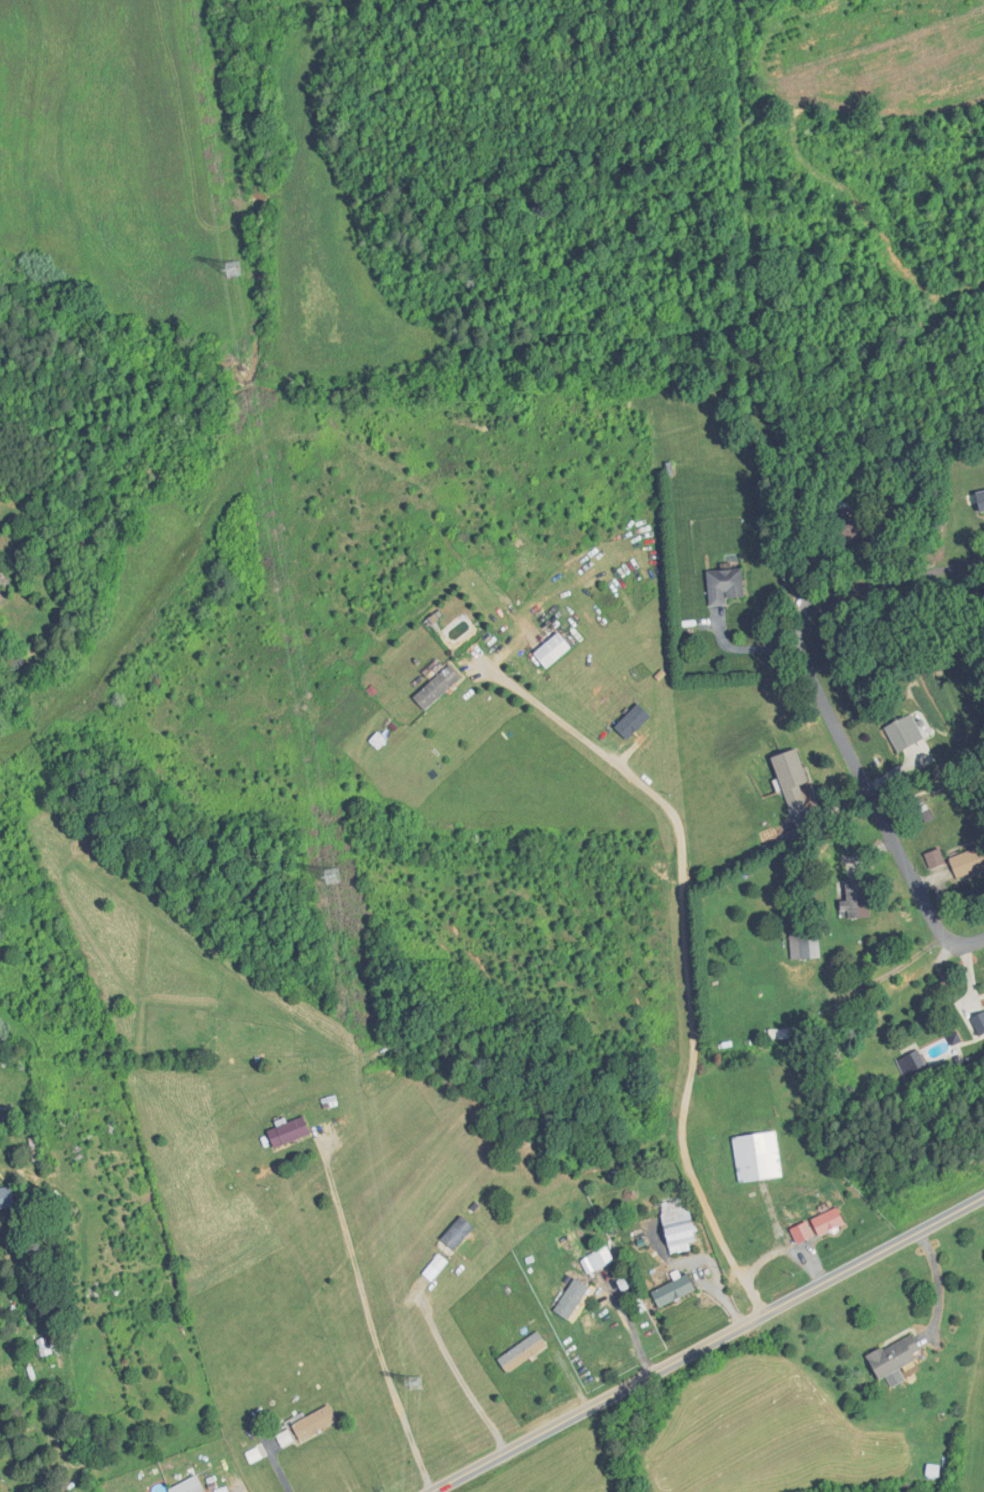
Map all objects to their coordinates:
building: (980, 502)
building: (855, 531)
building: (723, 585)
road: (811, 599)
building: (550, 649)
building: (434, 684)
building: (631, 721)
building: (899, 735)
building: (792, 780)
road: (902, 860)
building: (967, 861)
building: (853, 900)
road: (679, 960)
road: (906, 979)
building: (977, 1024)
building: (909, 1063)
building: (286, 1132)
building: (32, 1149)
building: (756, 1156)
building: (5, 1198)
building: (826, 1221)
building: (676, 1225)
building: (455, 1233)
building: (564, 1240)
building: (598, 1258)
building: (671, 1291)
building: (570, 1298)
road: (355, 1315)
road: (708, 1345)
building: (45, 1348)
building: (520, 1352)
building: (892, 1359)
road: (460, 1377)
building: (313, 1423)
building: (186, 1486)

